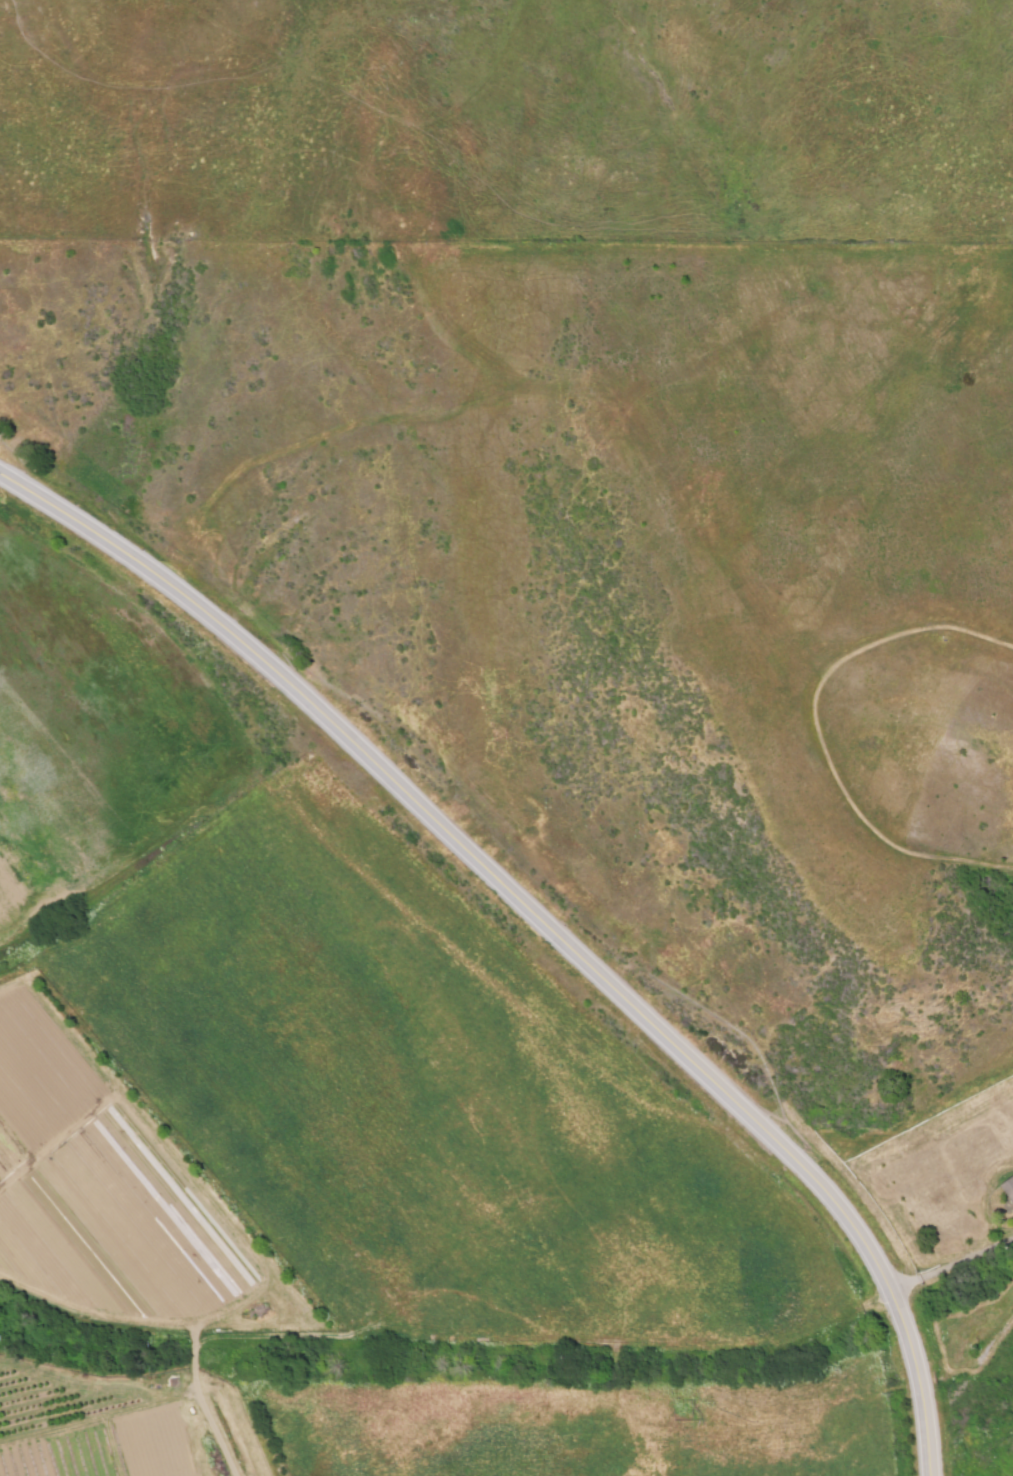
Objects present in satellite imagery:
crop: (120, 700)
road: (470, 855)
building: (1008, 1187)
road: (953, 1265)
road: (901, 1323)
road: (924, 1414)
crop: (122, 1425)

